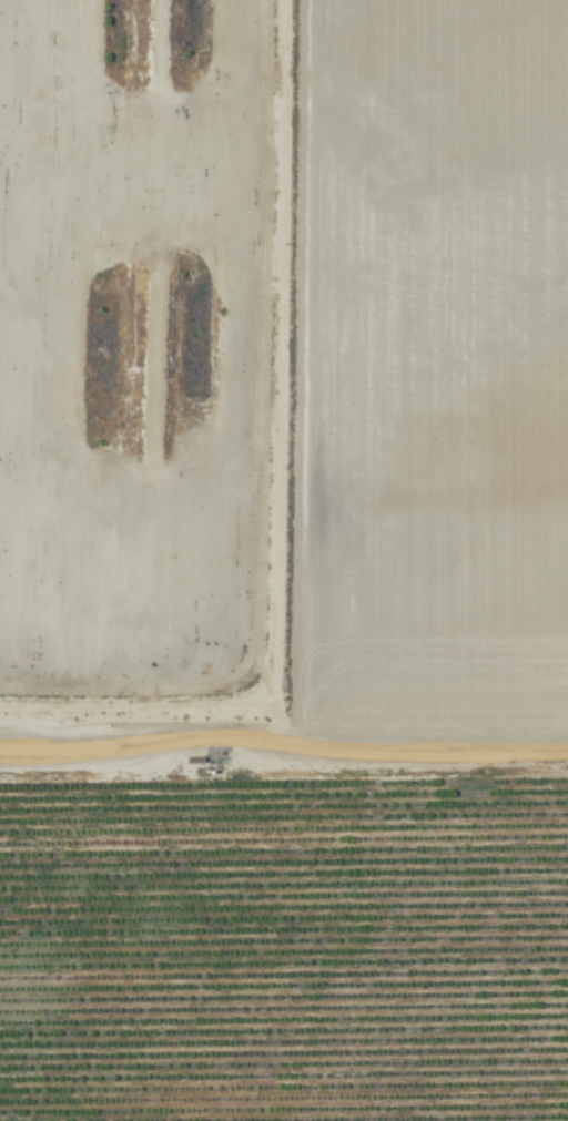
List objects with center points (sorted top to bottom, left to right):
road: (284, 743)

